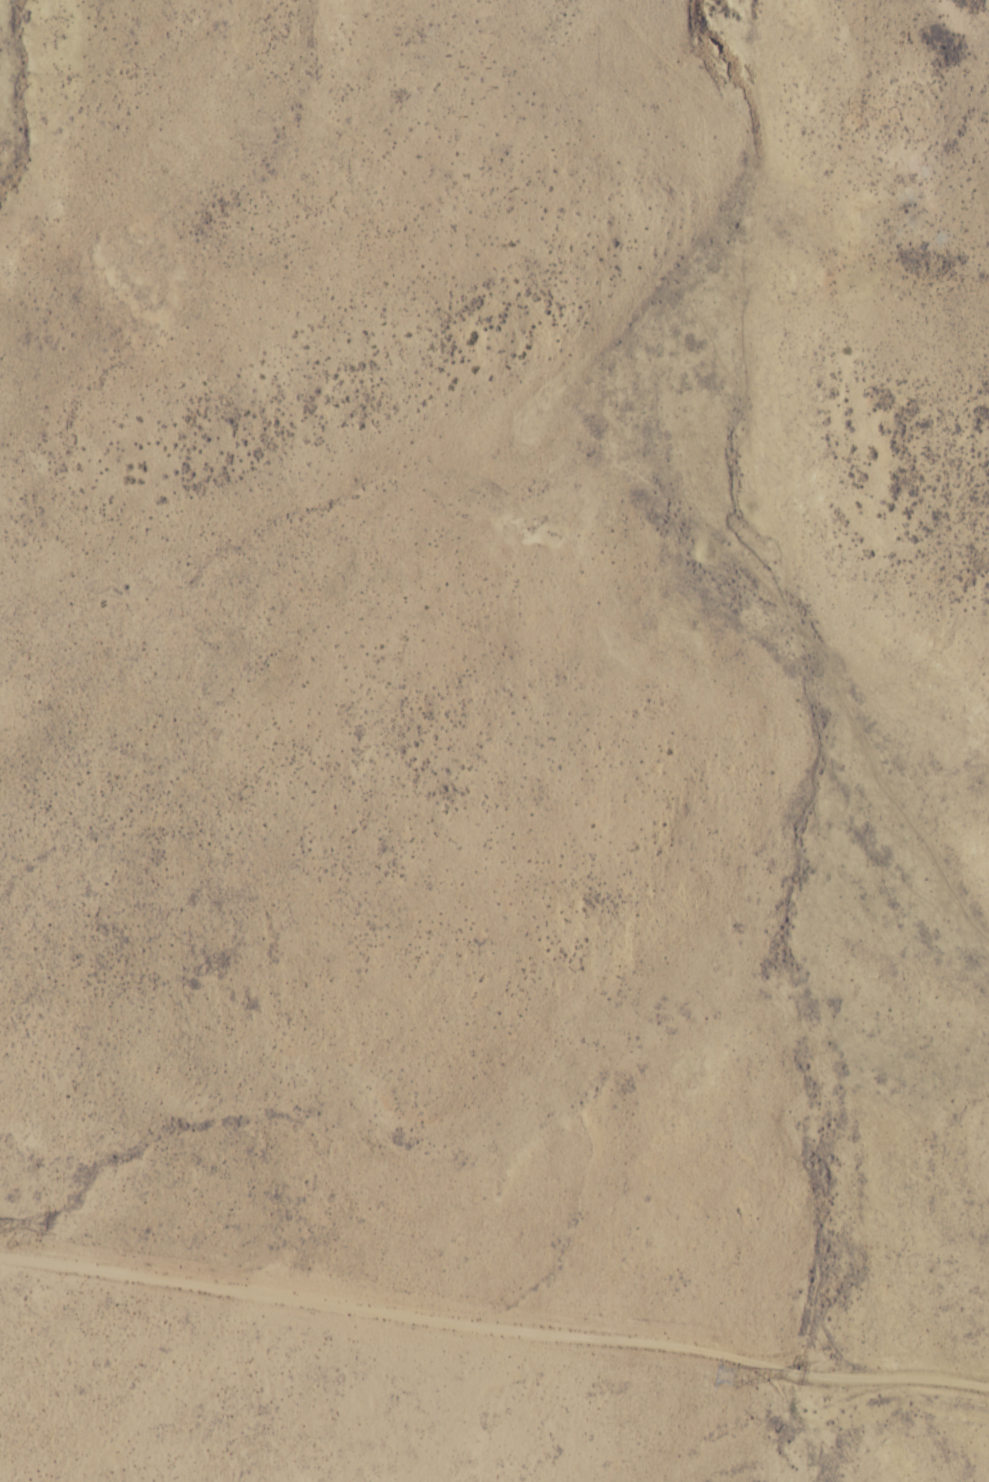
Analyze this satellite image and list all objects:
road: (497, 1288)
power tower: (720, 1359)

